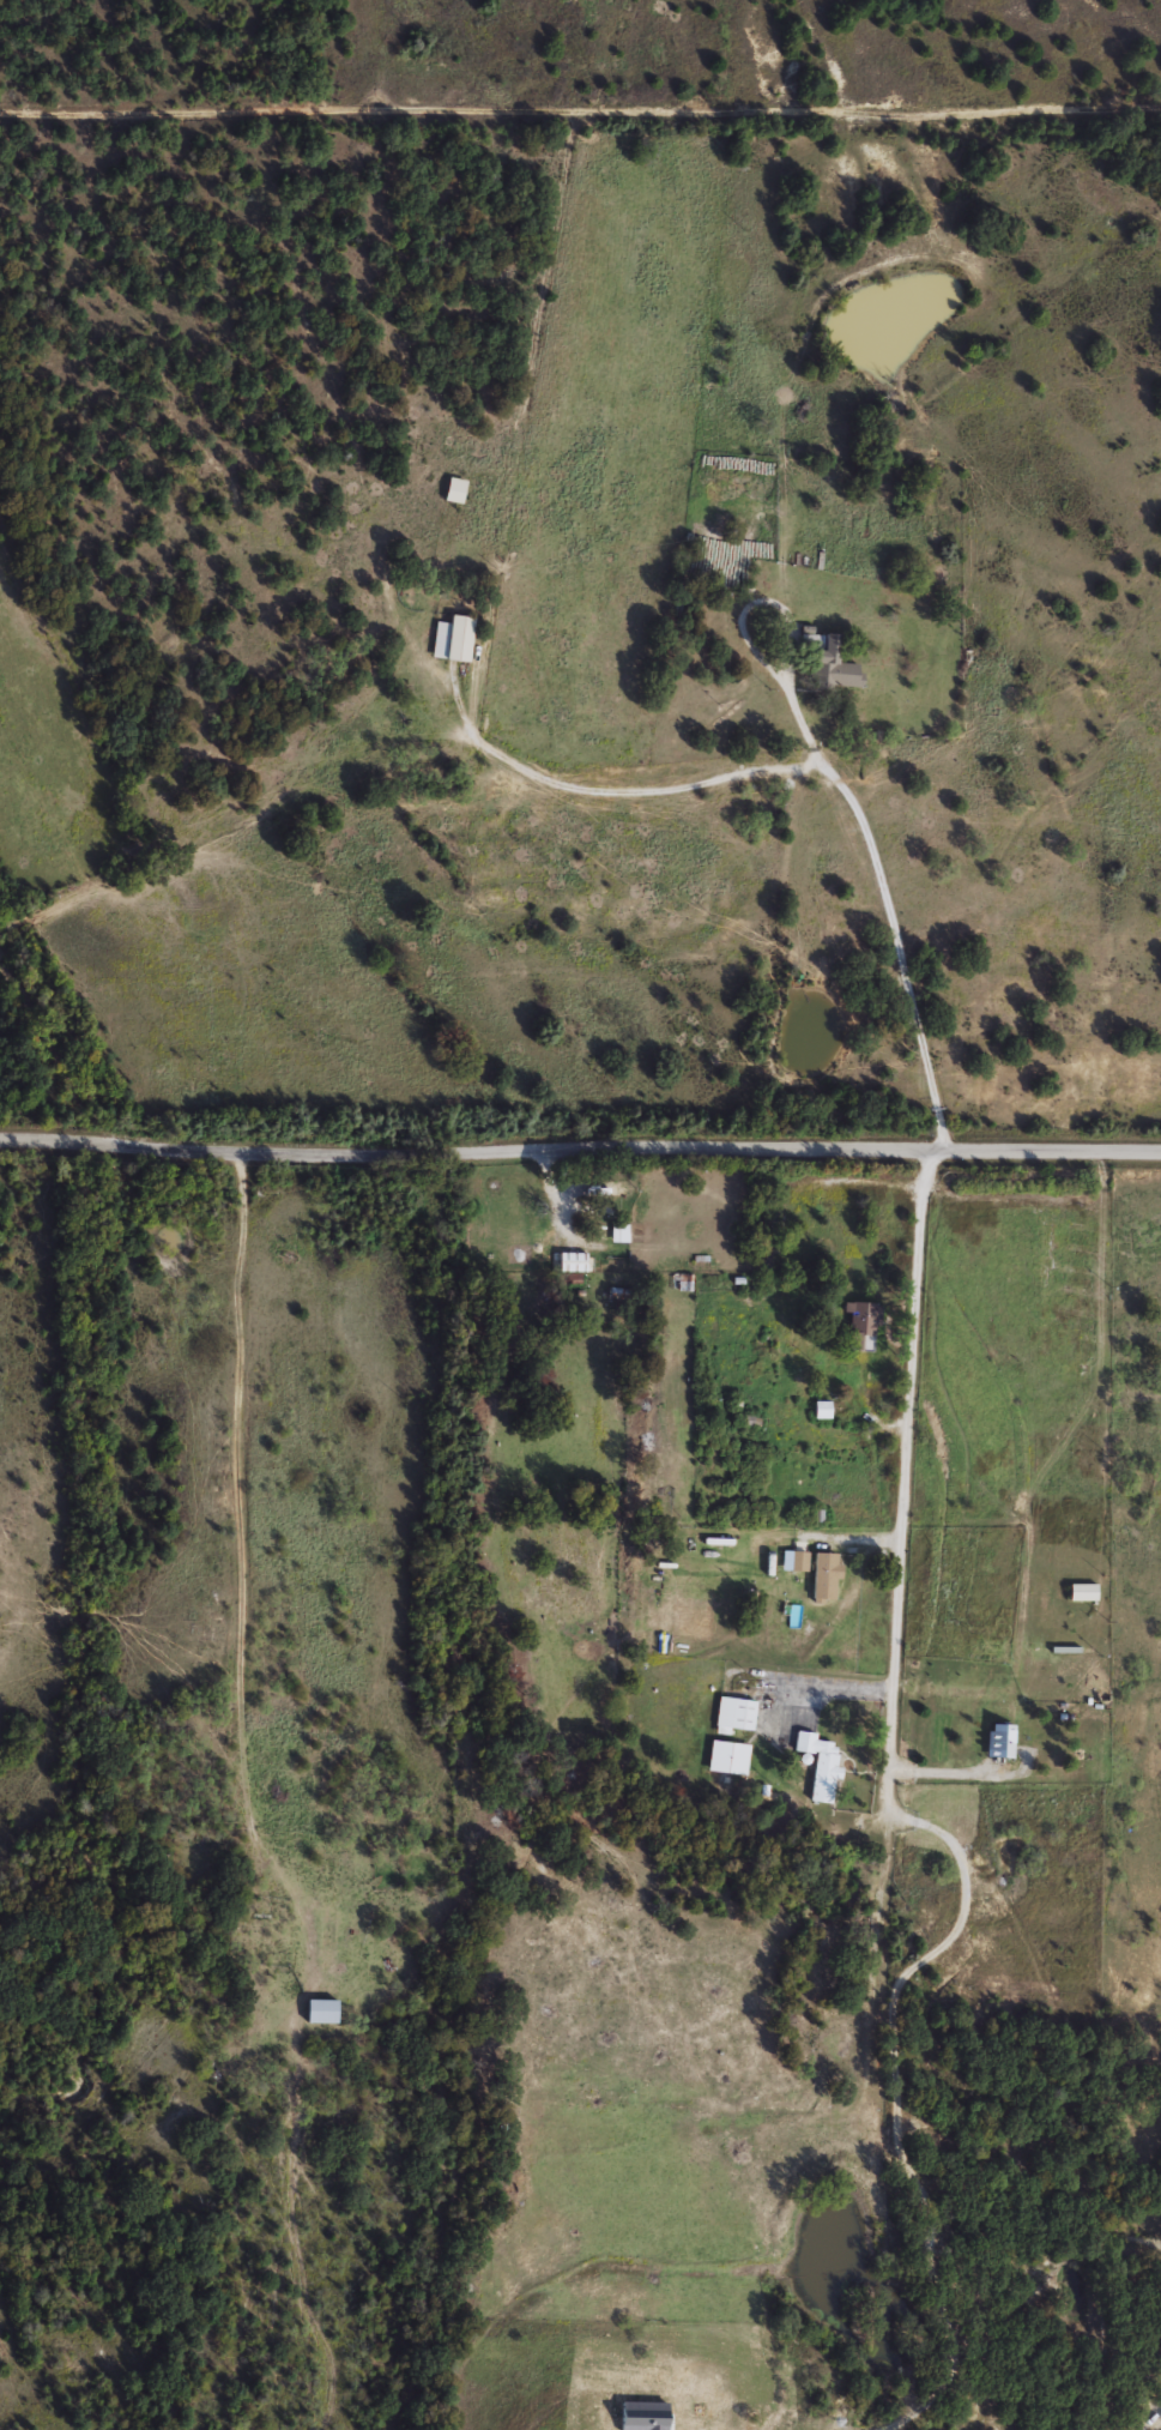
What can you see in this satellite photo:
road: (580, 111)
building: (455, 490)
building: (453, 639)
building: (830, 663)
road: (580, 1151)
building: (600, 1189)
road: (918, 1207)
building: (619, 1234)
building: (769, 1247)
building: (572, 1261)
building: (861, 1317)
building: (822, 1410)
road: (238, 1477)
building: (1082, 1591)
building: (1041, 1598)
building: (733, 1713)
building: (1000, 1741)
building: (727, 1757)
building: (820, 1765)
building: (321, 2010)

